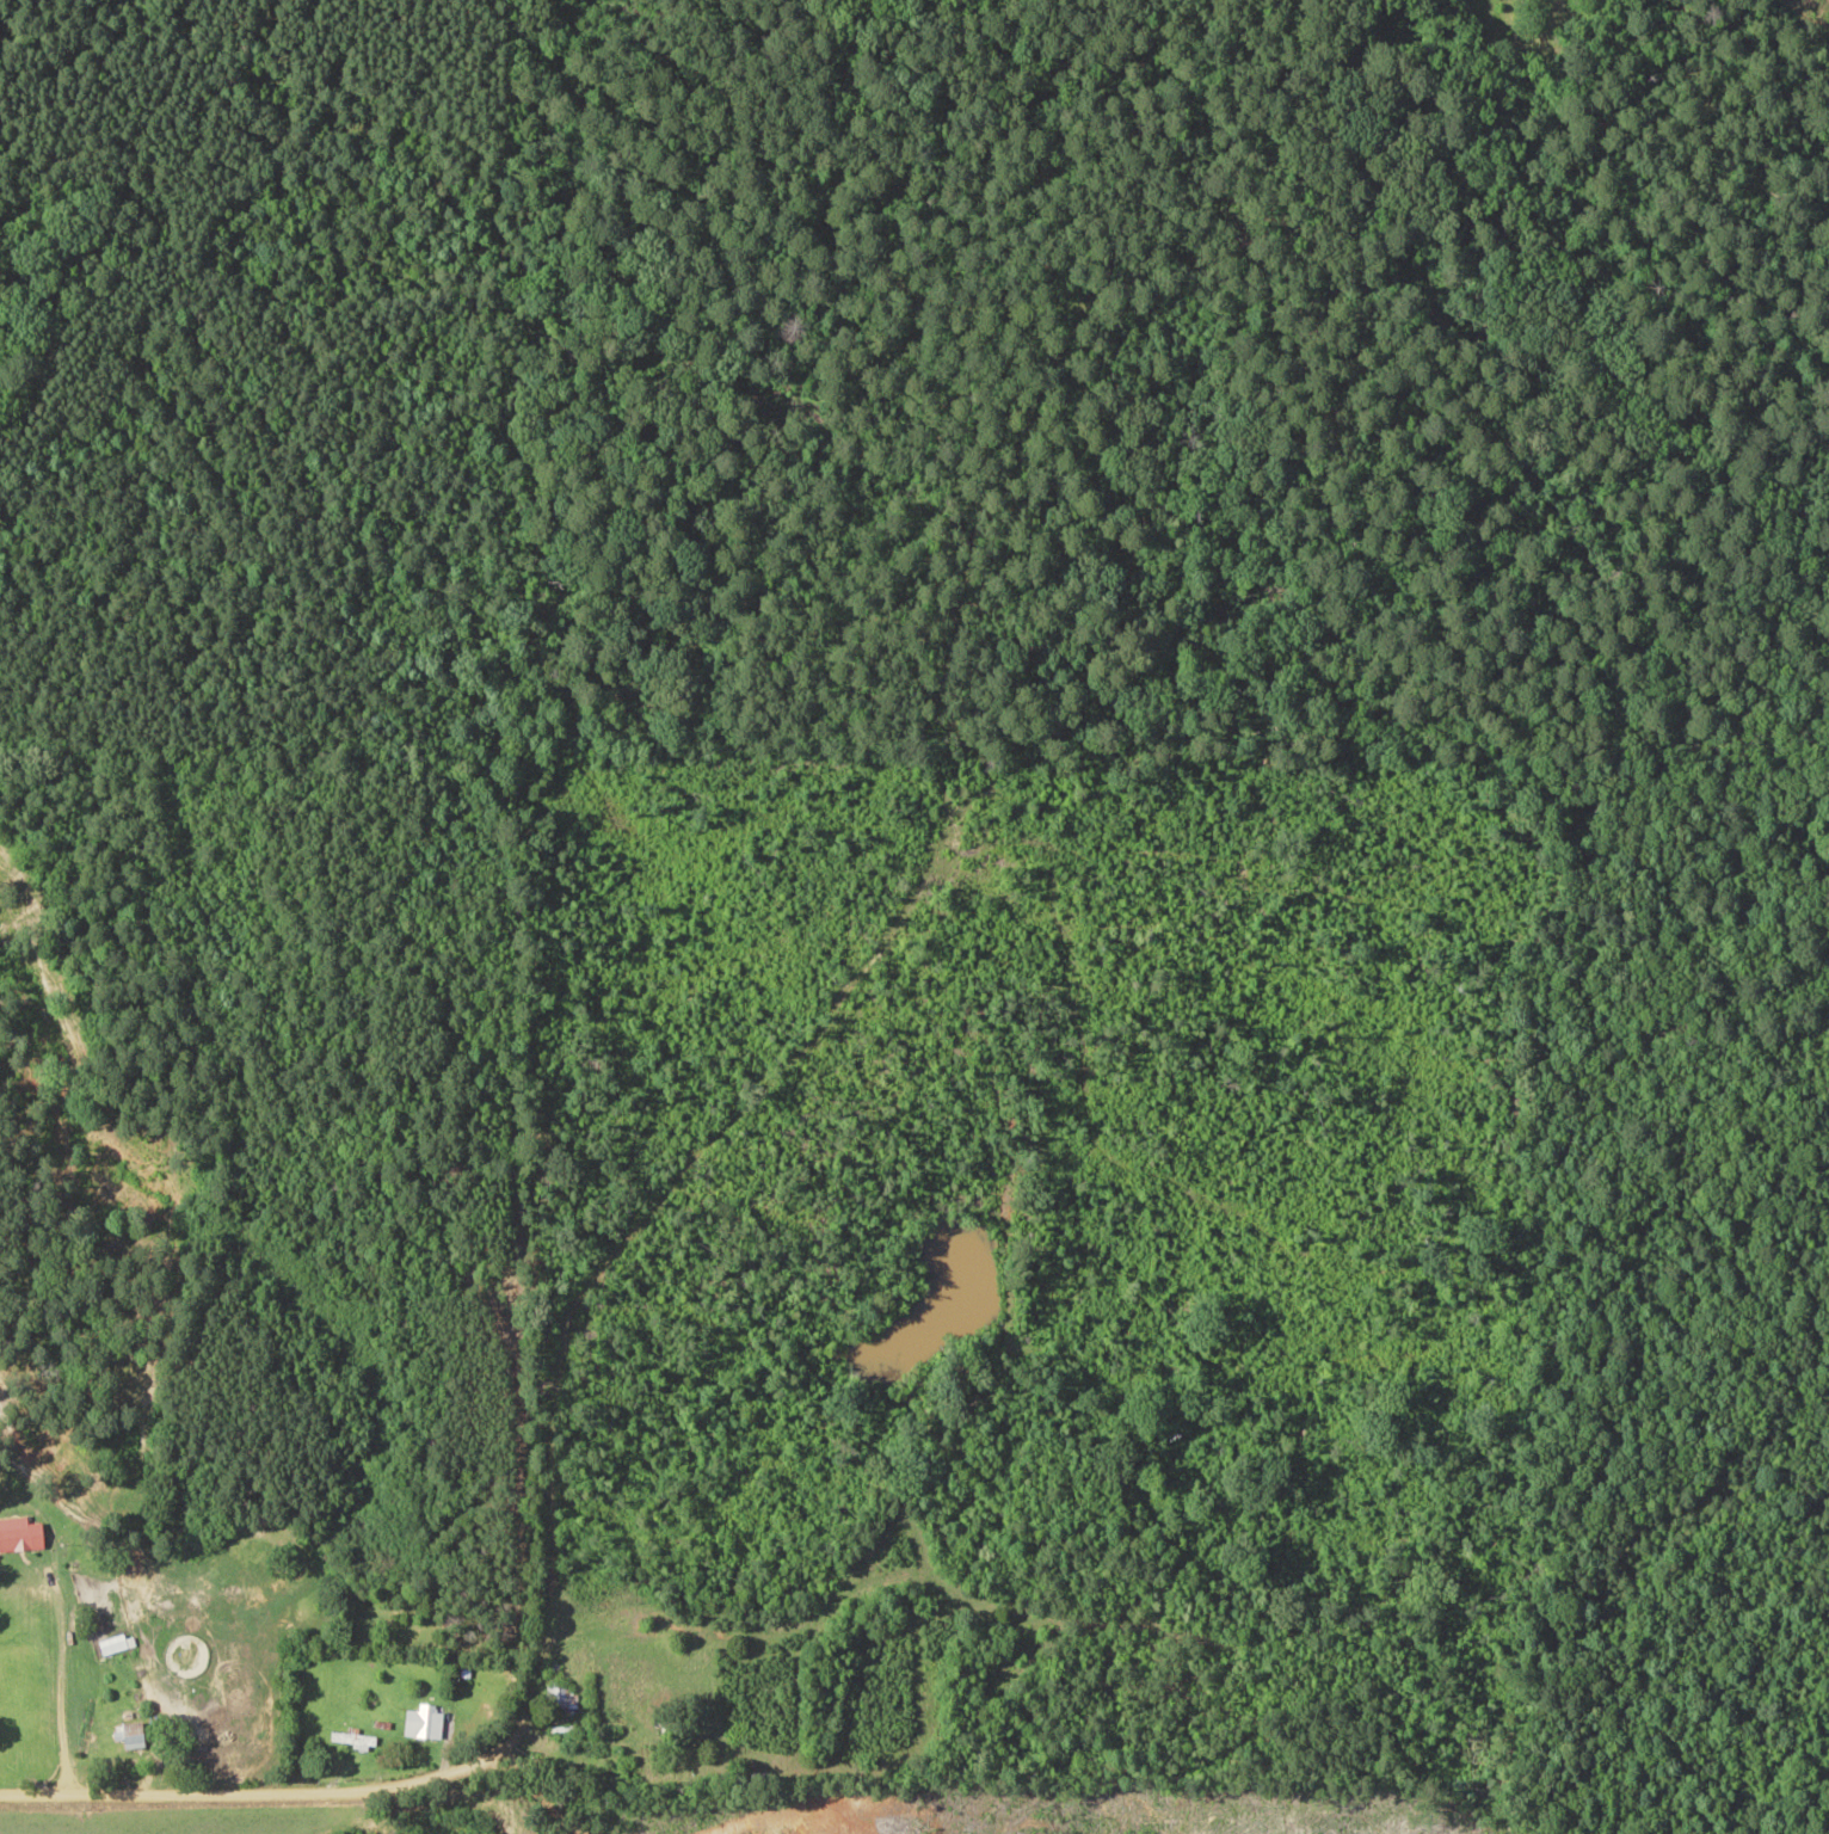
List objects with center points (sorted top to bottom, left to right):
building: (14, 1533)
building: (560, 1695)
building: (423, 1721)
building: (131, 1734)
building: (352, 1736)
building: (642, 1760)
road: (445, 1786)

